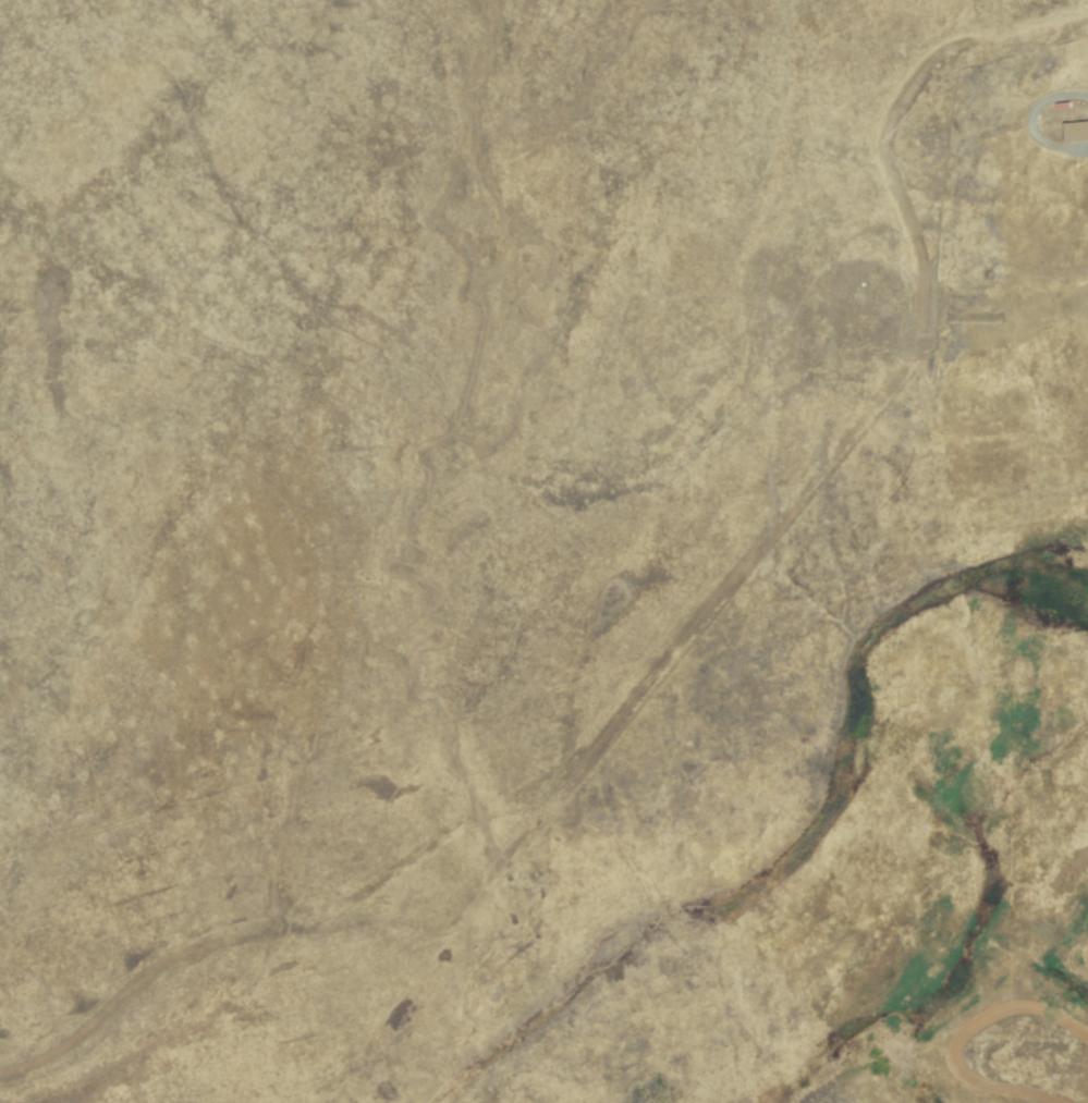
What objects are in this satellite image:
road: (1030, 121)
airport: (543, 551)
road: (1081, 941)
road: (1006, 1051)

